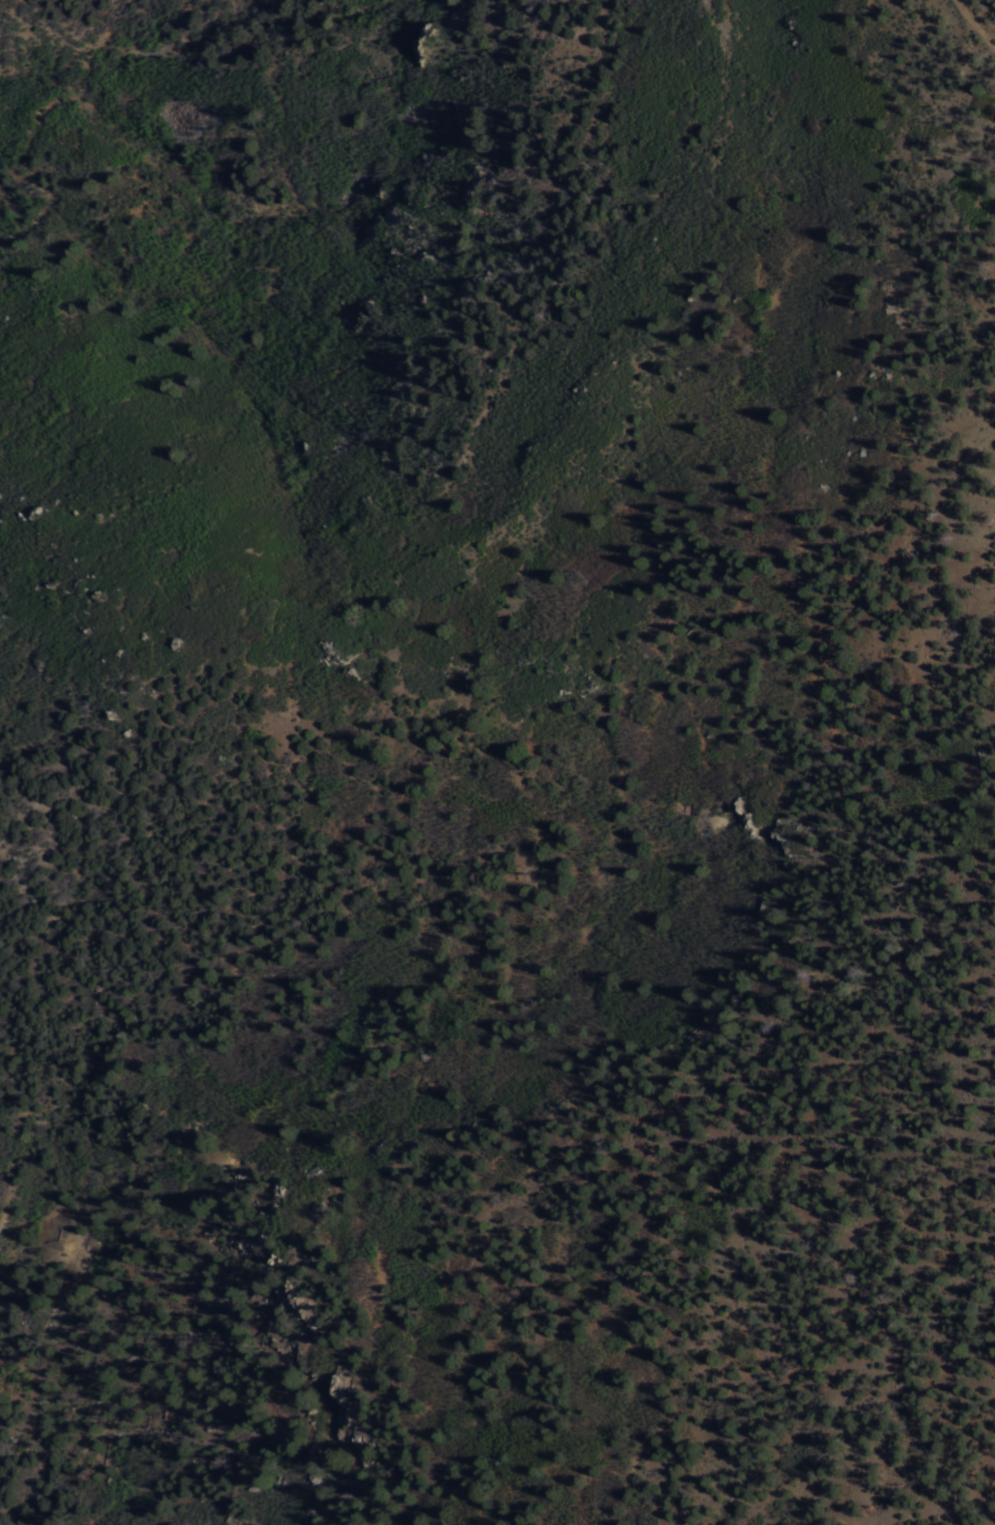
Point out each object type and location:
road: (975, 26)

